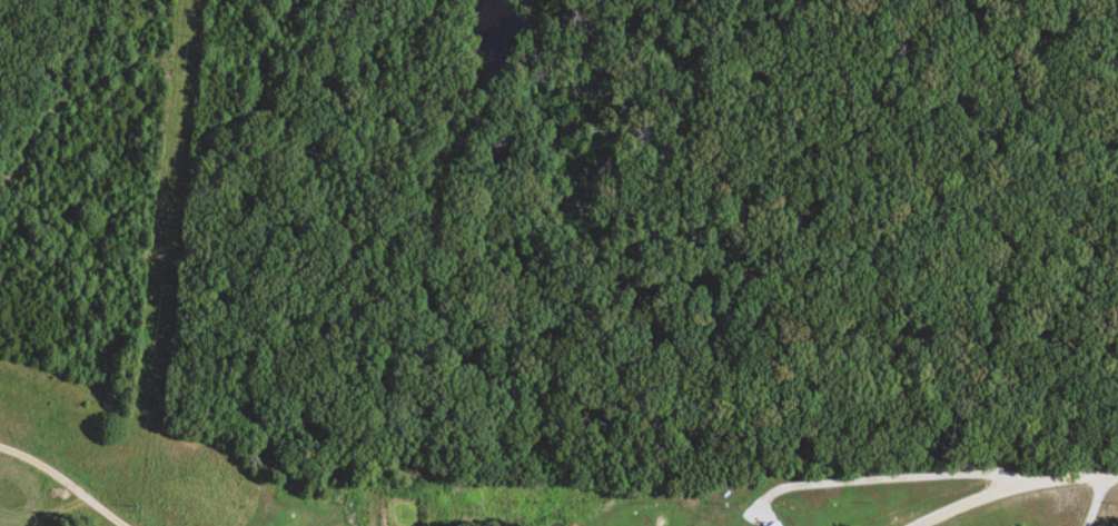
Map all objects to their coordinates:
road: (884, 478)
road: (63, 482)
road: (1015, 483)
road: (1091, 502)

